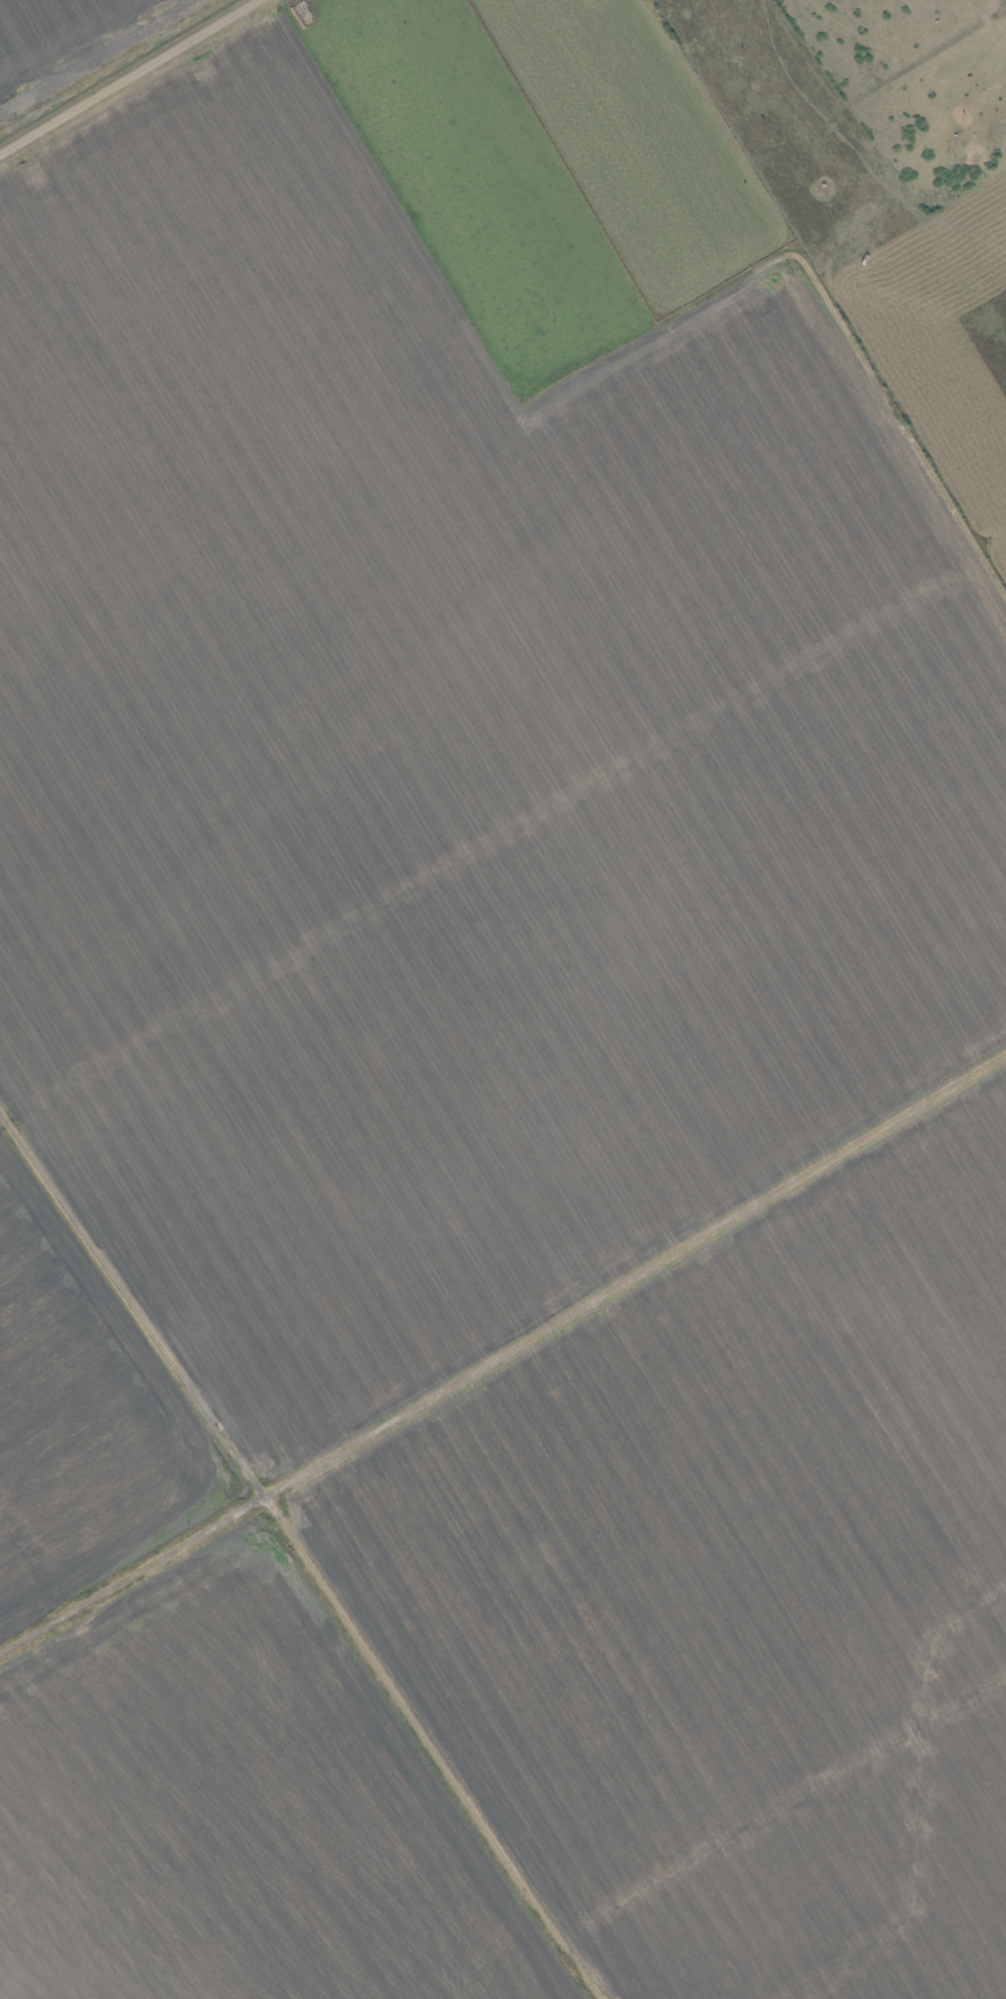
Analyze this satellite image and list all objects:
road: (126, 76)

